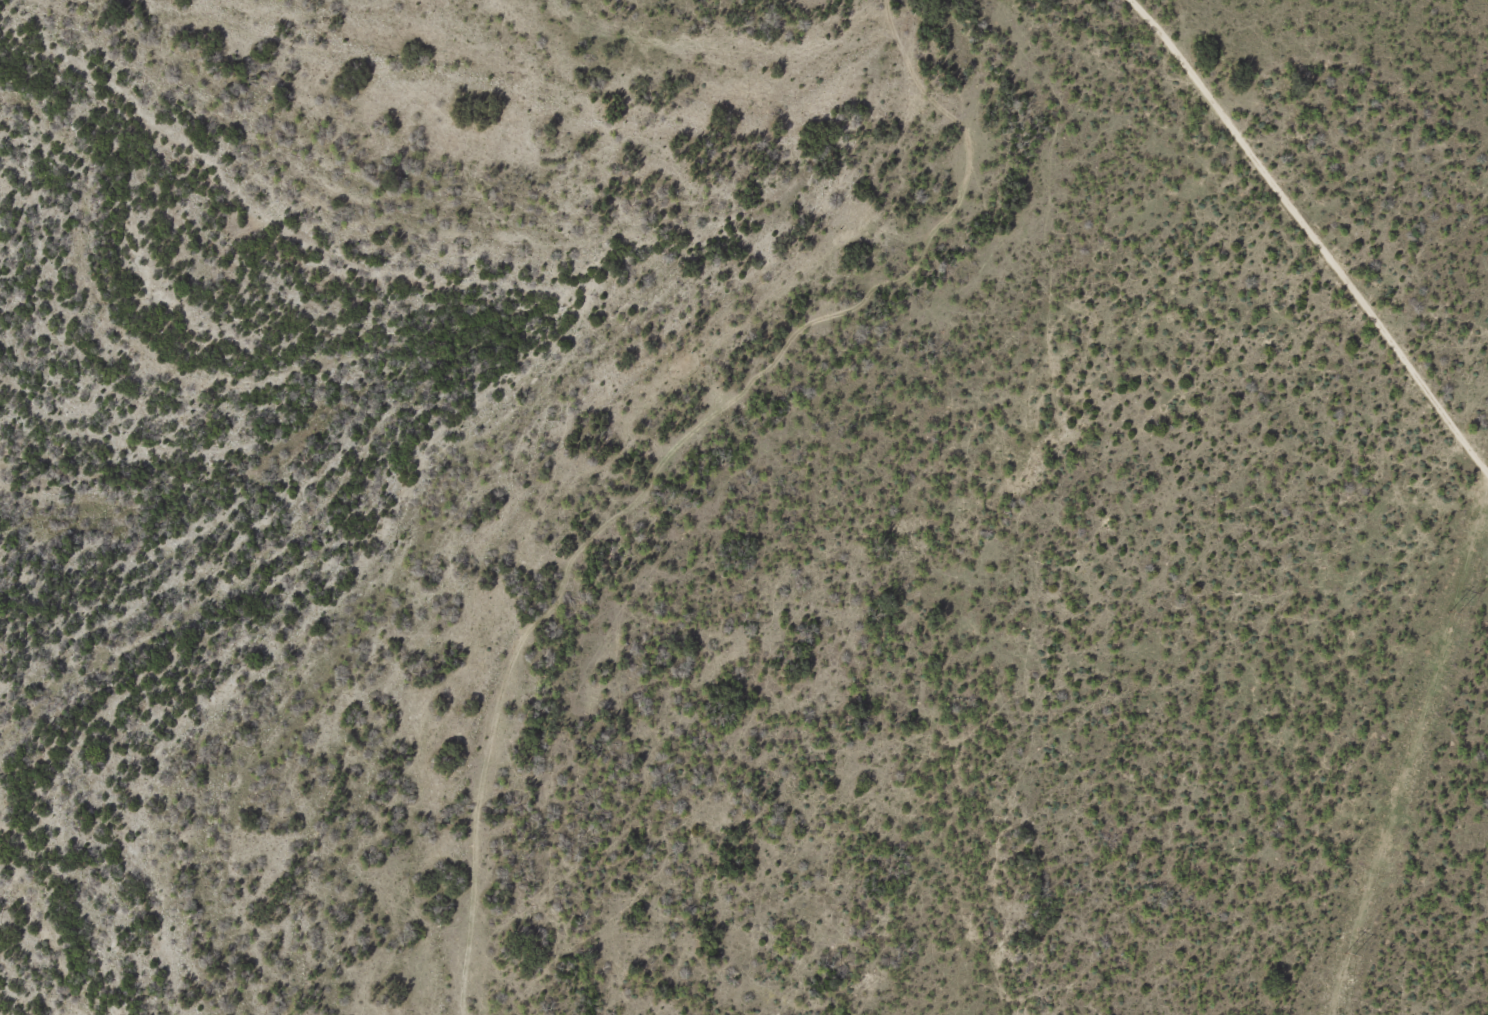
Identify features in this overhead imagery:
road: (1297, 245)
power tower: (1451, 611)
power tower: (1346, 952)

